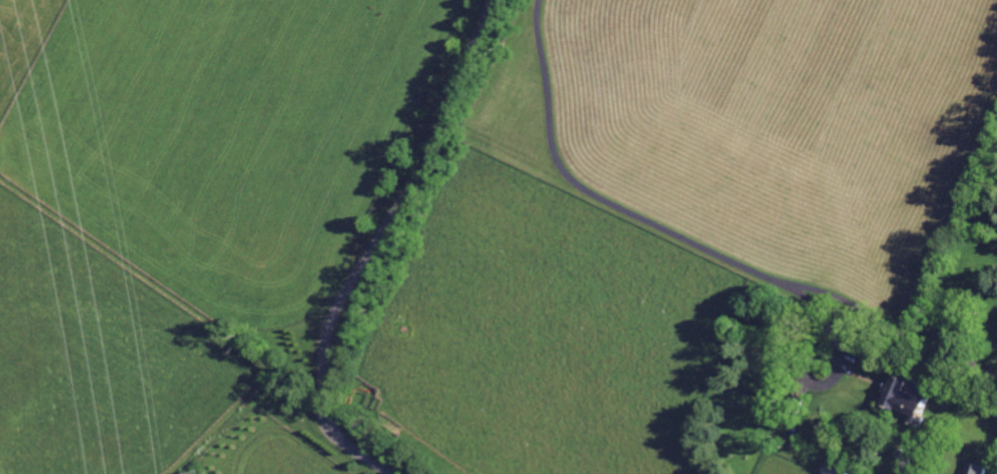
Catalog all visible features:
road: (613, 201)
road: (375, 244)
road: (892, 324)
road: (825, 383)

